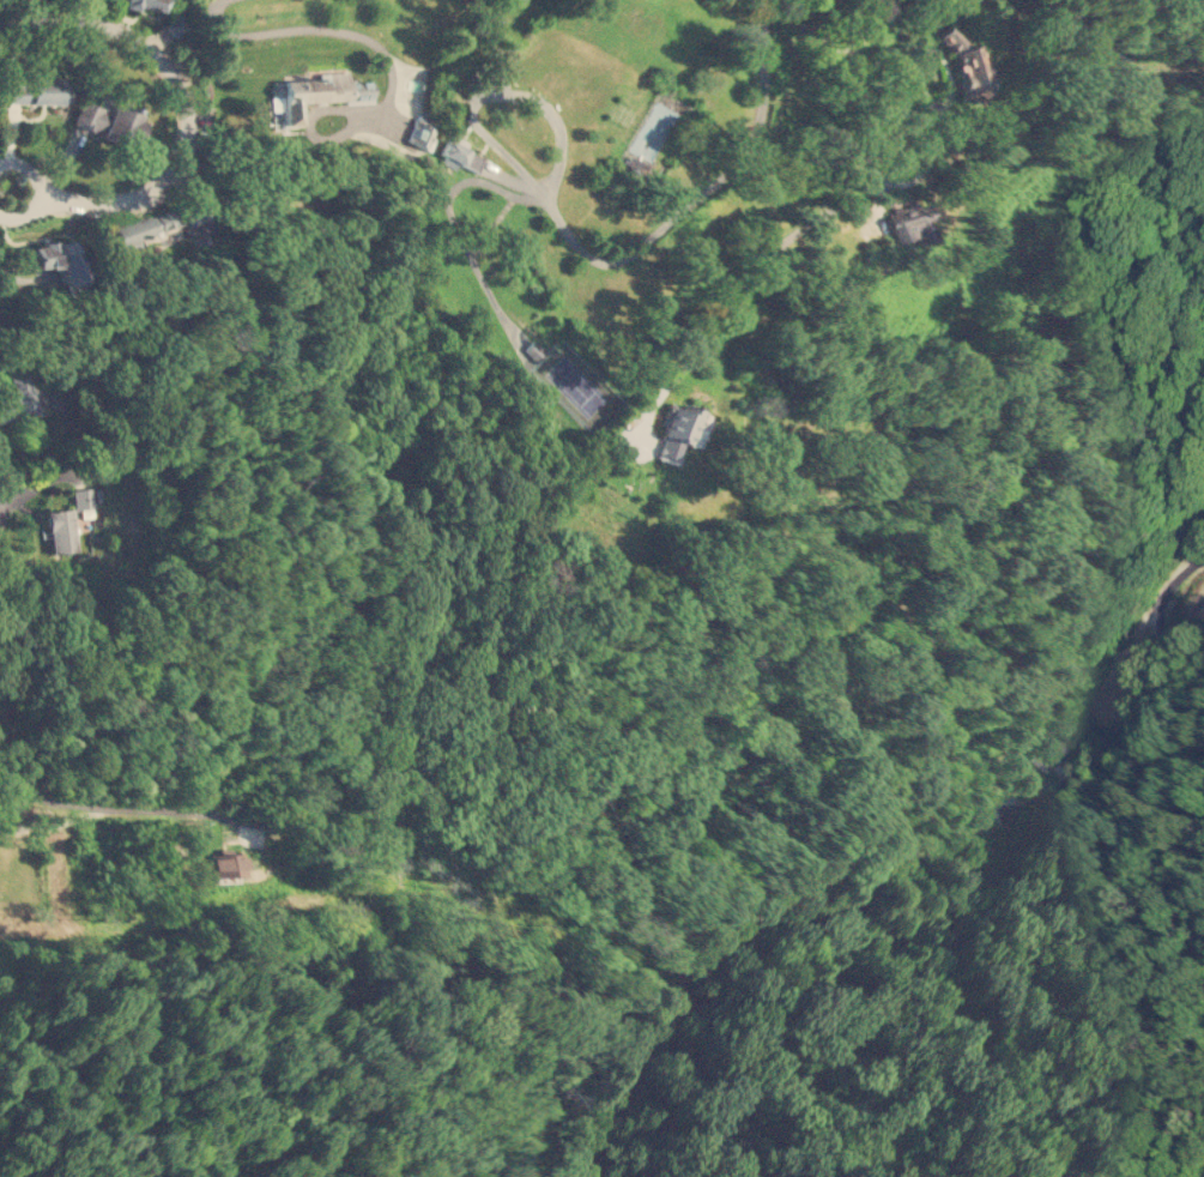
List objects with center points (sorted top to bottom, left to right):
building: (144, 4)
road: (310, 28)
road: (861, 37)
road: (841, 79)
building: (35, 91)
building: (313, 92)
road: (182, 97)
road: (491, 101)
building: (108, 120)
road: (311, 128)
building: (458, 156)
building: (633, 168)
road: (38, 189)
road: (702, 198)
road: (835, 206)
building: (190, 225)
building: (909, 227)
building: (131, 230)
building: (54, 258)
building: (18, 400)
building: (684, 428)
building: (85, 501)
building: (61, 529)
building: (1047, 744)
road: (1039, 795)
road: (114, 807)
building: (223, 864)

